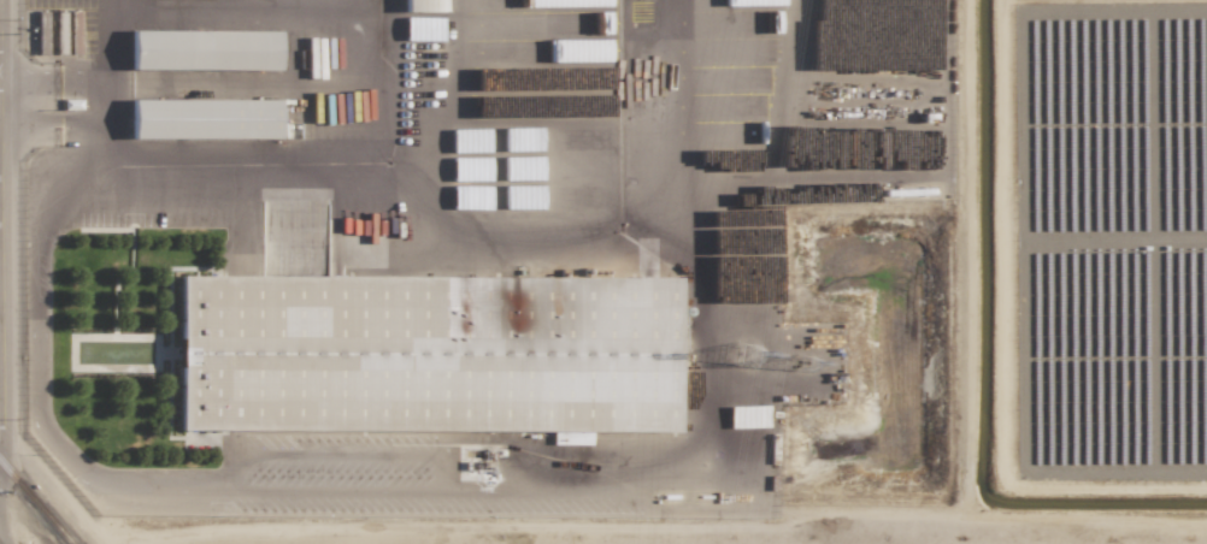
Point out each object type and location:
building: (553, 2)
building: (423, 6)
building: (570, 23)
building: (422, 29)
road: (105, 43)
building: (204, 49)
building: (585, 51)
road: (66, 79)
building: (204, 119)
road: (52, 128)
road: (113, 152)
building: (523, 197)
building: (428, 354)
power tower: (738, 356)
power tower: (800, 362)
road: (2, 363)
building: (473, 437)
road: (600, 490)
railway: (35, 503)

